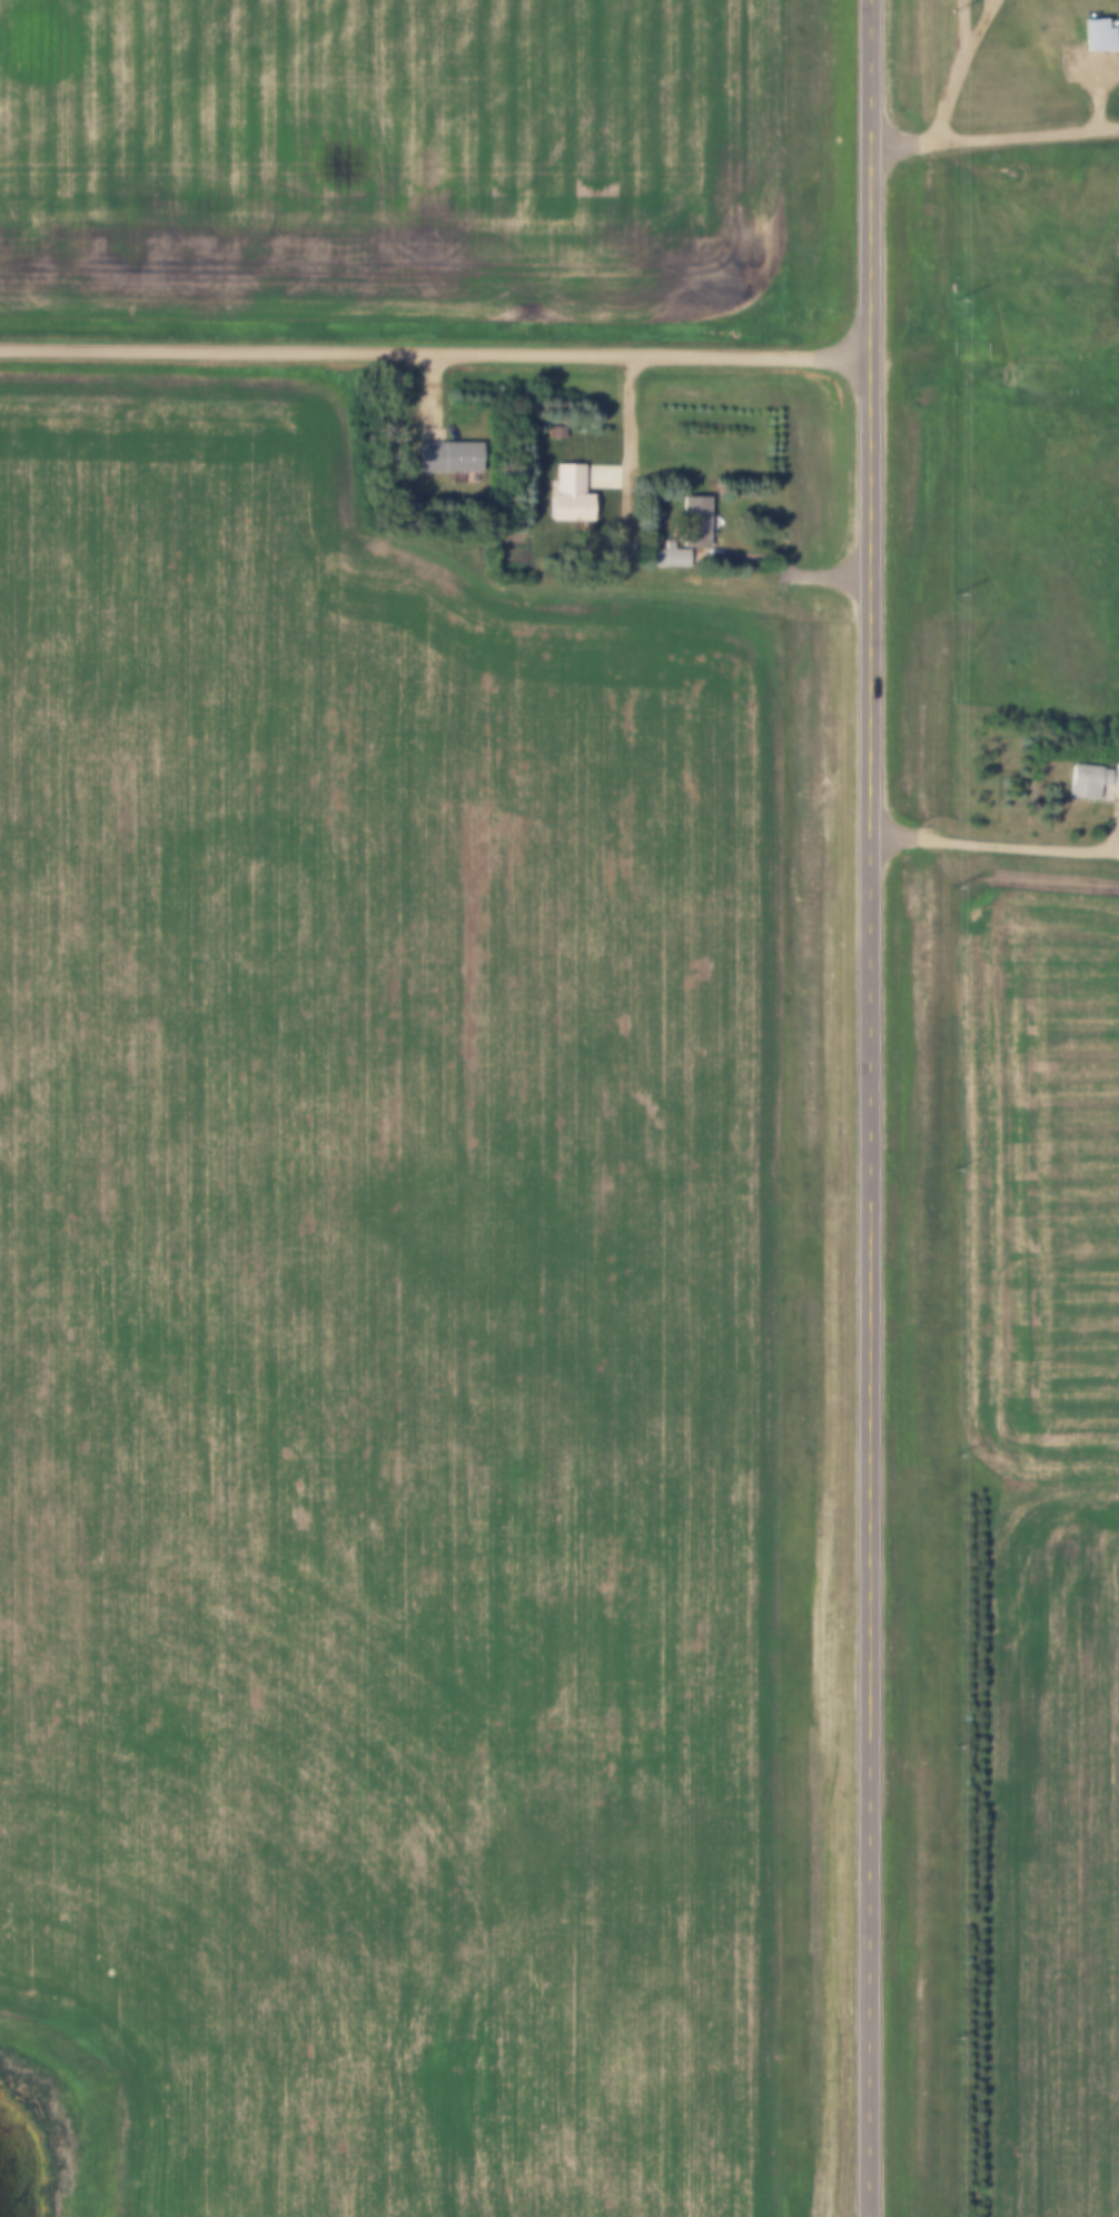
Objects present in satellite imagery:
building: (1100, 37)
road: (957, 72)
road: (992, 135)
road: (434, 348)
road: (628, 457)
building: (453, 460)
building: (583, 493)
building: (690, 551)
building: (1117, 772)
building: (1090, 782)
road: (989, 843)
road: (867, 1108)

